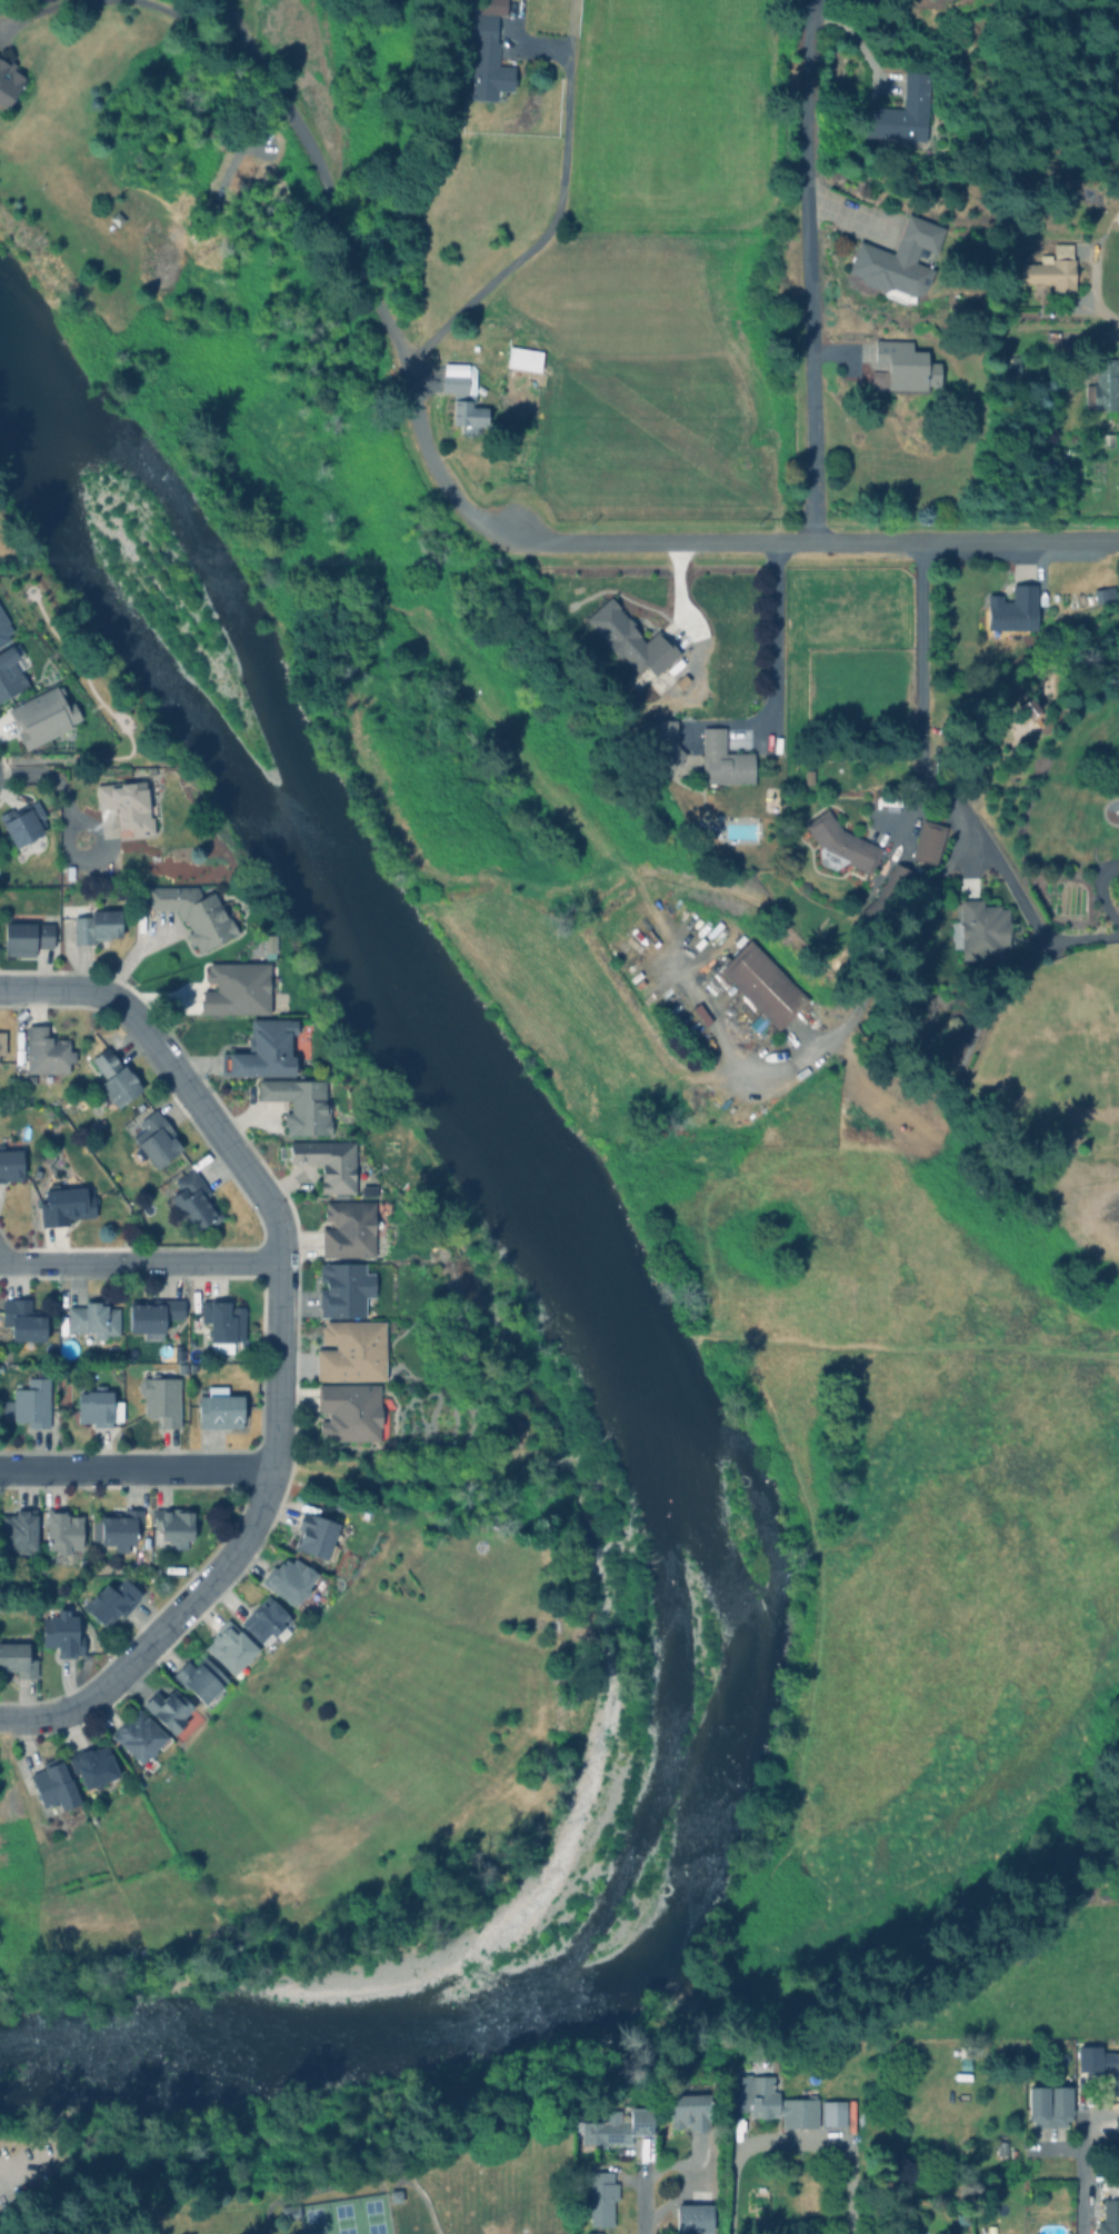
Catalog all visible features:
road: (121, 0)
building: (483, 50)
building: (8, 81)
building: (901, 111)
building: (1117, 215)
road: (546, 233)
building: (898, 259)
road: (802, 271)
building: (1051, 271)
road: (1103, 316)
building: (522, 357)
building: (1010, 366)
building: (900, 367)
building: (1101, 383)
building: (462, 397)
building: (1106, 438)
road: (503, 530)
building: (1098, 592)
building: (1008, 609)
building: (2, 626)
road: (778, 636)
building: (628, 638)
building: (8, 671)
road: (920, 676)
building: (39, 715)
building: (662, 738)
building: (721, 758)
road: (61, 791)
building: (128, 801)
building: (20, 821)
building: (927, 840)
building: (839, 842)
road: (1100, 891)
building: (887, 894)
road: (1018, 897)
building: (137, 902)
building: (193, 911)
building: (93, 924)
building: (981, 928)
building: (24, 931)
building: (267, 944)
building: (761, 984)
road: (58, 988)
building: (236, 988)
building: (1, 1040)
building: (269, 1048)
building: (44, 1053)
building: (111, 1077)
building: (297, 1103)
building: (151, 1138)
building: (10, 1157)
building: (326, 1160)
building: (366, 1188)
building: (191, 1199)
building: (63, 1203)
road: (272, 1208)
building: (347, 1227)
road: (140, 1261)
building: (342, 1286)
building: (151, 1313)
building: (20, 1317)
building: (92, 1318)
building: (220, 1322)
building: (351, 1348)
building: (177, 1349)
river: (651, 1387)
building: (159, 1396)
building: (29, 1399)
building: (96, 1404)
building: (216, 1405)
building: (351, 1409)
road: (138, 1469)
building: (171, 1524)
building: (117, 1525)
building: (17, 1528)
building: (61, 1528)
building: (314, 1534)
building: (287, 1577)
building: (108, 1598)
building: (263, 1618)
road: (162, 1627)
building: (60, 1630)
building: (229, 1646)
building: (16, 1657)
building: (199, 1677)
building: (170, 1709)
building: (137, 1734)
building: (90, 1765)
building: (51, 1782)
building: (1110, 2066)
building: (769, 2100)
building: (1050, 2105)
building: (688, 2110)
building: (831, 2113)
building: (1117, 2125)
building: (615, 2127)
road: (795, 2140)
building: (1003, 2147)
park: (308, 2160)
road: (1082, 2164)
road: (351, 2181)
building: (389, 2197)
building: (602, 2197)
road: (640, 2197)
building: (289, 2211)
park: (341, 2216)
building: (691, 2217)
building: (1110, 2217)
building: (963, 2218)
park: (361, 2223)
park: (324, 2226)
building: (1068, 2233)

